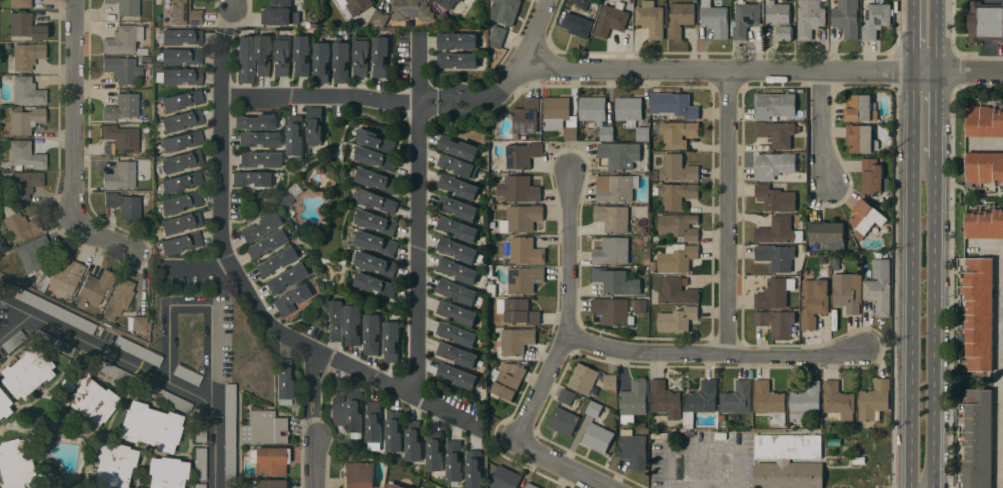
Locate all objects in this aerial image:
building: (759, 1)
building: (20, 3)
building: (447, 3)
building: (582, 3)
building: (355, 6)
building: (125, 7)
building: (410, 10)
building: (505, 11)
building: (184, 13)
building: (279, 14)
road: (230, 16)
building: (379, 18)
building: (745, 18)
building: (809, 18)
building: (846, 18)
building: (611, 19)
building: (650, 19)
building: (679, 19)
building: (714, 19)
building: (779, 19)
building: (875, 20)
building: (984, 22)
building: (577, 25)
building: (25, 26)
road: (537, 34)
road: (912, 35)
road: (935, 35)
building: (497, 36)
building: (180, 37)
building: (123, 39)
building: (457, 41)
building: (142, 52)
building: (262, 55)
building: (282, 55)
building: (25, 56)
building: (181, 56)
building: (302, 56)
building: (361, 56)
building: (380, 57)
building: (144, 59)
building: (245, 59)
building: (457, 60)
building: (321, 62)
building: (341, 63)
building: (122, 69)
road: (418, 70)
road: (763, 70)
building: (181, 76)
building: (27, 91)
building: (147, 94)
road: (484, 98)
building: (182, 99)
road: (428, 102)
building: (673, 105)
building: (774, 105)
building: (122, 107)
building: (860, 108)
building: (592, 109)
building: (628, 109)
road: (73, 110)
road: (934, 114)
building: (560, 117)
building: (24, 119)
building: (525, 119)
building: (181, 120)
building: (256, 121)
building: (984, 121)
building: (314, 126)
road: (823, 128)
building: (146, 130)
building: (606, 134)
building: (642, 134)
building: (677, 134)
building: (776, 134)
building: (295, 135)
building: (122, 138)
building: (260, 139)
building: (860, 139)
building: (182, 140)
building: (375, 141)
building: (458, 147)
road: (988, 147)
road: (419, 153)
building: (619, 154)
building: (24, 155)
building: (521, 155)
building: (376, 158)
building: (260, 159)
building: (182, 161)
building: (458, 165)
building: (777, 167)
building: (984, 167)
building: (677, 168)
building: (120, 175)
building: (653, 176)
building: (872, 176)
building: (253, 178)
building: (376, 180)
building: (181, 181)
building: (24, 184)
building: (457, 187)
building: (616, 188)
building: (517, 189)
building: (654, 192)
building: (677, 194)
building: (775, 198)
building: (378, 201)
building: (180, 202)
building: (124, 205)
building: (491, 206)
building: (458, 208)
road: (730, 213)
building: (866, 216)
building: (520, 218)
building: (613, 219)
building: (376, 222)
building: (180, 223)
building: (984, 224)
building: (20, 226)
building: (678, 226)
building: (260, 227)
building: (458, 228)
building: (778, 231)
building: (828, 235)
road: (104, 236)
road: (224, 237)
building: (181, 242)
building: (376, 242)
building: (266, 243)
road: (989, 249)
building: (457, 250)
building: (525, 251)
building: (611, 251)
building: (32, 252)
building: (776, 257)
building: (677, 260)
building: (276, 261)
building: (822, 261)
building: (375, 264)
road: (195, 267)
building: (458, 271)
building: (489, 272)
building: (63, 275)
building: (286, 277)
road: (911, 279)
building: (524, 280)
building: (616, 281)
building: (375, 284)
building: (879, 287)
building: (95, 288)
building: (491, 290)
building: (676, 292)
building: (458, 293)
building: (774, 293)
building: (846, 293)
building: (119, 298)
building: (292, 298)
building: (813, 302)
road: (201, 304)
building: (639, 306)
building: (52, 309)
building: (517, 311)
building: (612, 311)
building: (457, 313)
road: (569, 313)
building: (978, 314)
building: (335, 320)
building: (677, 320)
building: (775, 322)
building: (136, 323)
road: (933, 323)
building: (352, 325)
building: (371, 334)
building: (457, 334)
building: (13, 341)
building: (391, 341)
building: (515, 341)
building: (53, 343)
building: (138, 351)
building: (457, 354)
road: (715, 356)
road: (142, 370)
building: (26, 372)
building: (187, 375)
building: (456, 375)
building: (284, 379)
building: (506, 380)
building: (583, 380)
building: (610, 382)
building: (138, 383)
road: (397, 389)
building: (86, 396)
building: (569, 397)
building: (737, 398)
building: (337, 399)
building: (664, 400)
building: (874, 400)
building: (633, 401)
building: (699, 401)
building: (804, 401)
building: (837, 401)
building: (769, 403)
building: (4, 405)
building: (593, 409)
building: (354, 413)
road: (317, 419)
building: (563, 421)
building: (374, 422)
building: (151, 426)
building: (200, 427)
building: (264, 428)
building: (393, 432)
building: (689, 434)
building: (229, 435)
building: (597, 438)
building: (977, 439)
building: (413, 441)
building: (834, 442)
road: (712, 443)
building: (787, 446)
building: (633, 449)
building: (434, 451)
building: (269, 460)
building: (454, 460)
building: (858, 460)
road: (316, 461)
building: (200, 463)
road: (561, 465)
building: (20, 466)
building: (113, 466)
road: (666, 466)
building: (473, 469)
building: (167, 472)
building: (358, 475)
building: (788, 475)
building: (504, 478)
building: (268, 483)
building: (199, 485)
building: (394, 486)
building: (531, 486)

